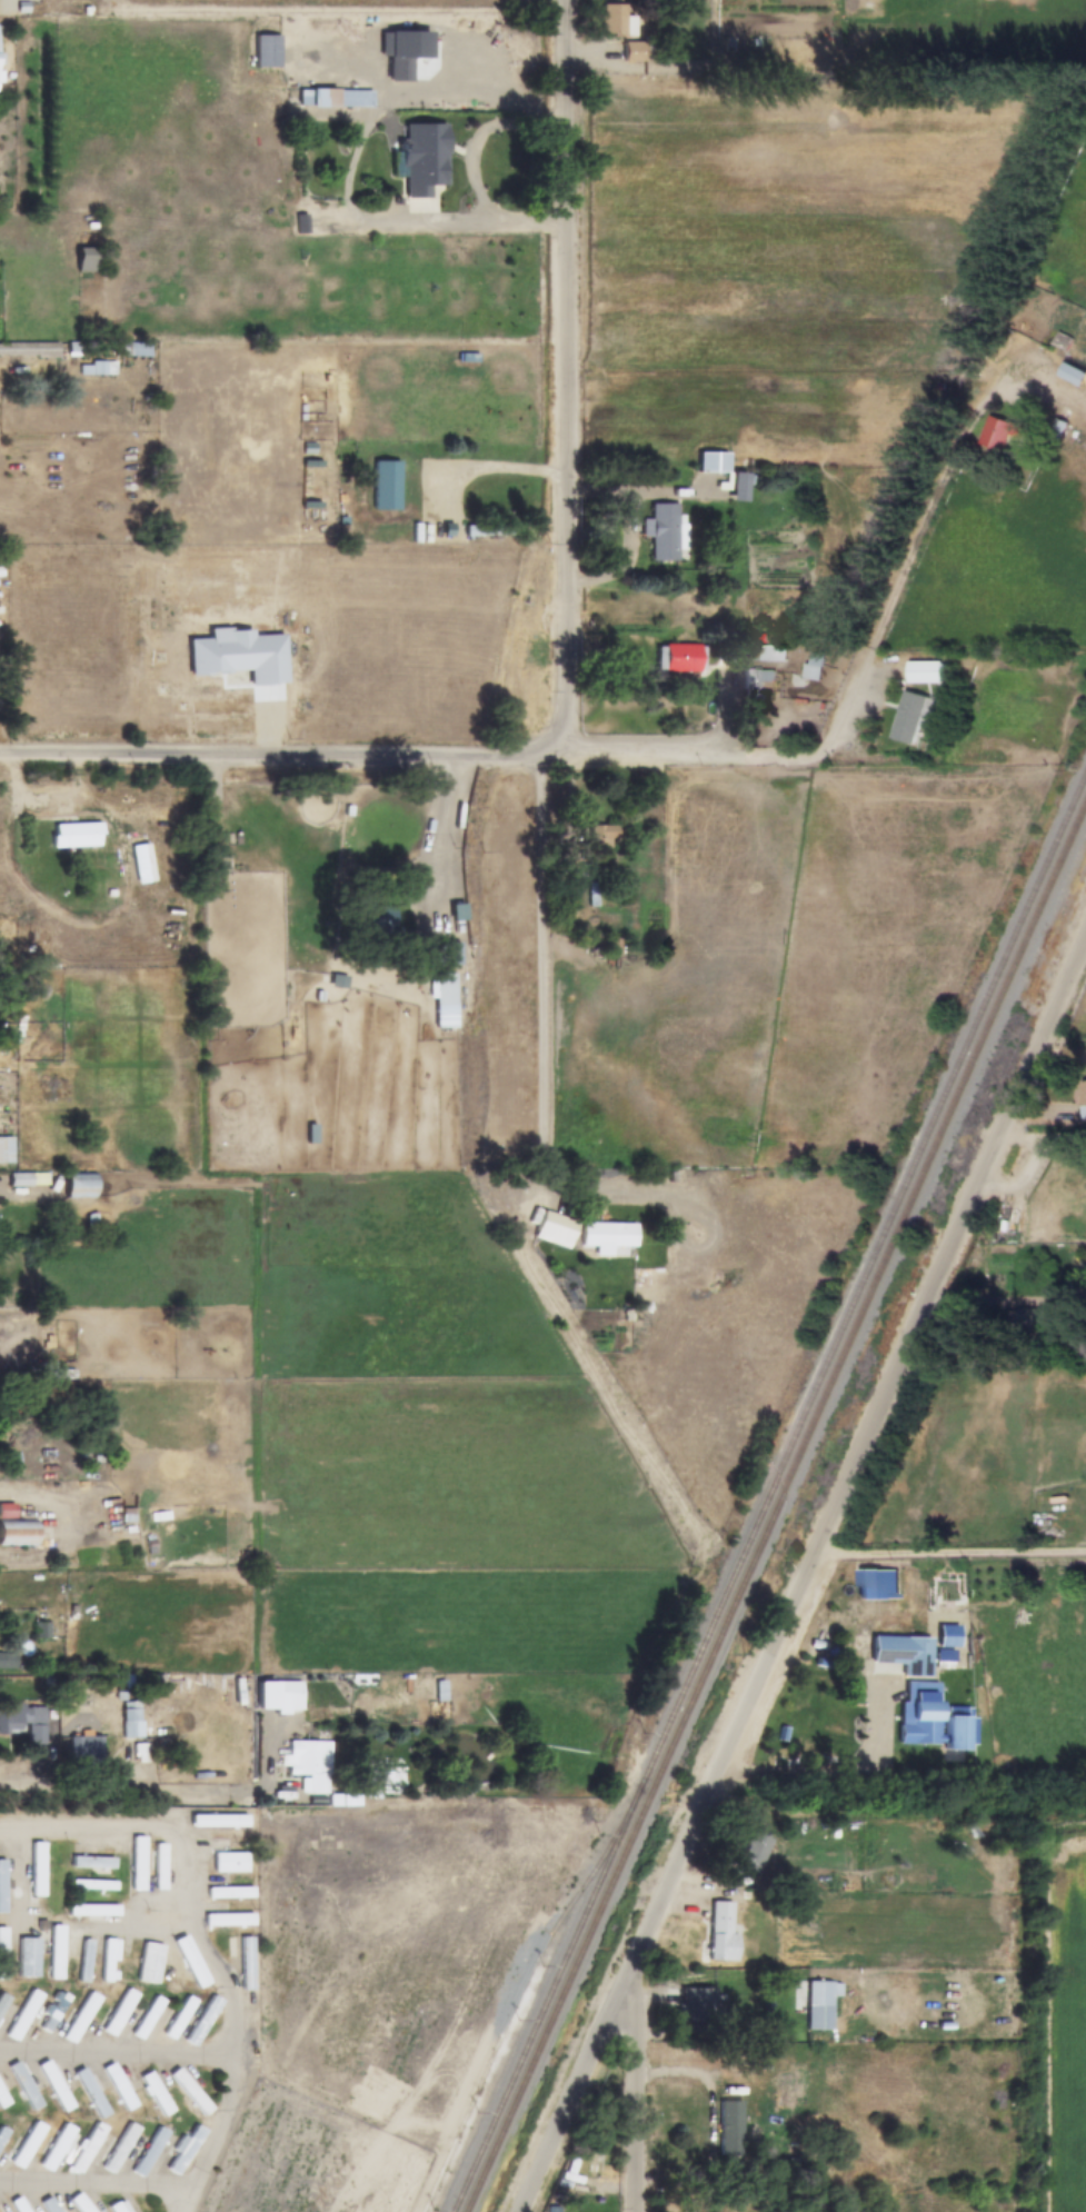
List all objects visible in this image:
building: (616, 22)
building: (398, 68)
building: (329, 99)
building: (422, 160)
road: (353, 173)
building: (87, 259)
building: (97, 369)
building: (1075, 373)
road: (564, 378)
building: (1058, 428)
building: (1000, 432)
building: (713, 461)
road: (489, 472)
building: (386, 486)
building: (489, 530)
building: (664, 531)
road: (634, 555)
building: (680, 658)
building: (813, 666)
building: (931, 671)
building: (756, 678)
building: (915, 716)
road: (640, 757)
road: (460, 835)
building: (76, 836)
building: (601, 837)
building: (373, 919)
road: (110, 923)
building: (605, 946)
building: (447, 954)
building: (444, 989)
building: (1083, 1094)
road: (541, 1116)
road: (1036, 1146)
building: (6, 1149)
building: (80, 1185)
building: (556, 1226)
building: (608, 1235)
building: (1033, 1321)
railway: (768, 1493)
road: (46, 1501)
railway: (775, 1507)
building: (18, 1534)
road: (948, 1553)
road: (806, 1568)
building: (870, 1585)
building: (947, 1637)
building: (903, 1654)
building: (8, 1661)
building: (919, 1714)
building: (19, 1717)
building: (956, 1734)
building: (86, 1747)
building: (309, 1763)
road: (833, 1772)
road: (17, 1778)
road: (873, 1814)
building: (218, 1822)
road: (116, 1827)
building: (754, 1853)
building: (92, 1863)
building: (230, 1863)
building: (138, 1864)
building: (160, 1867)
building: (37, 1871)
building: (93, 1885)
building: (2, 1887)
building: (230, 1893)
building: (92, 1911)
road: (191, 1917)
building: (228, 1920)
building: (721, 1931)
building: (57, 1953)
building: (2, 1954)
building: (28, 1957)
building: (84, 1961)
building: (108, 1961)
building: (149, 1963)
building: (247, 1963)
road: (159, 1970)
building: (175, 1973)
building: (2, 2002)
building: (697, 2005)
building: (818, 2005)
railway: (511, 2009)
building: (52, 2012)
building: (119, 2012)
building: (23, 2015)
building: (179, 2016)
building: (80, 2017)
building: (148, 2017)
building: (202, 2021)
road: (116, 2053)
building: (54, 2085)
building: (118, 2086)
road: (632, 2088)
building: (29, 2090)
building: (190, 2092)
building: (90, 2093)
building: (156, 2094)
building: (2, 2099)
building: (730, 2129)
building: (2, 2134)
building: (28, 2145)
building: (57, 2148)
building: (120, 2148)
building: (87, 2149)
building: (185, 2151)
building: (149, 2152)
road: (176, 2186)
road: (182, 2200)
building: (80, 2203)
building: (17, 2205)
building: (52, 2209)

